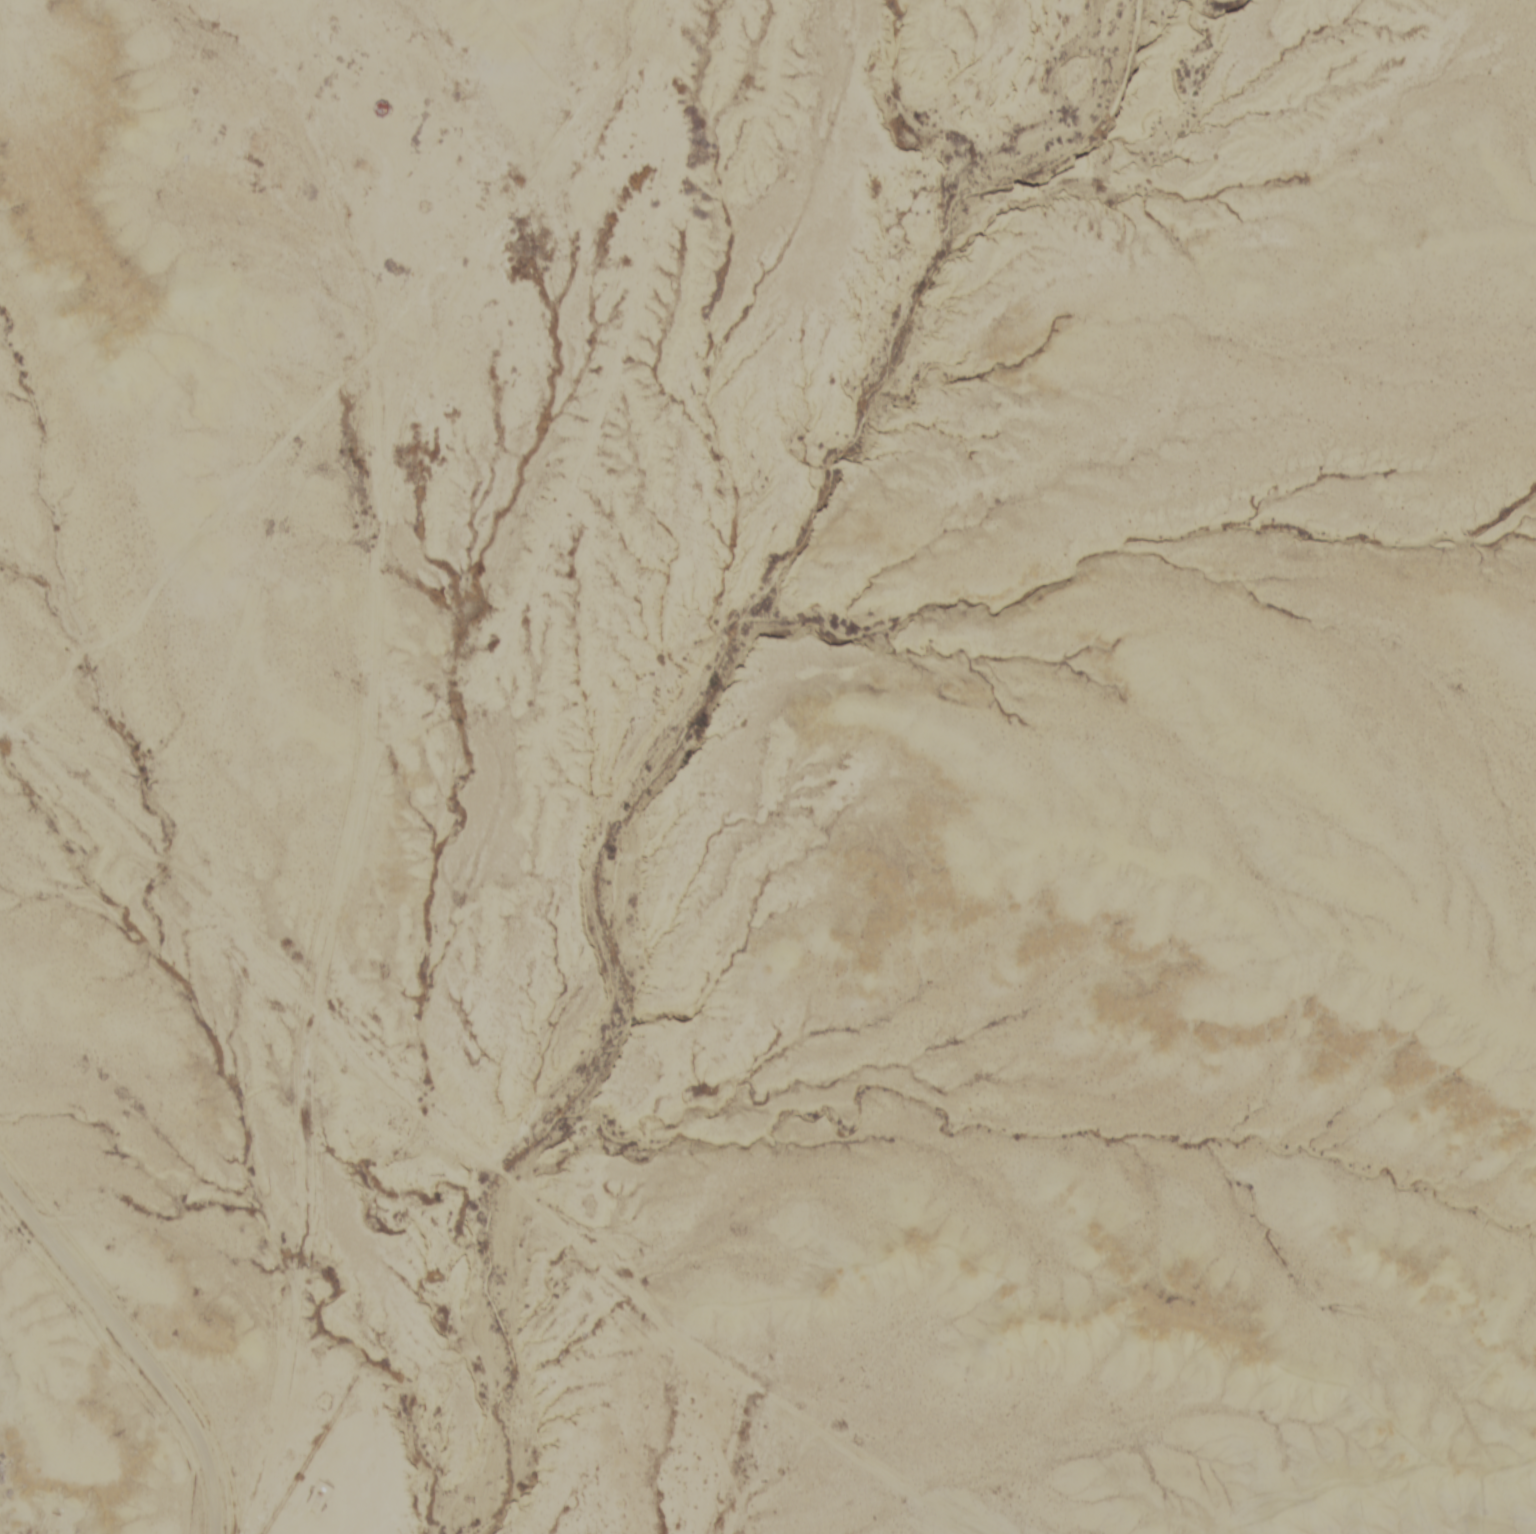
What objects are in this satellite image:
road: (634, 1285)
road: (132, 1342)

